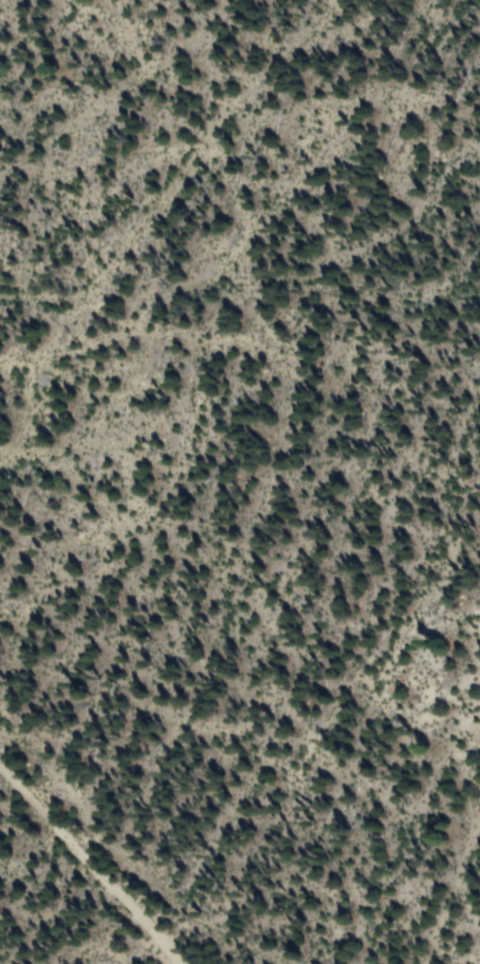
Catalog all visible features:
road: (112, 845)

